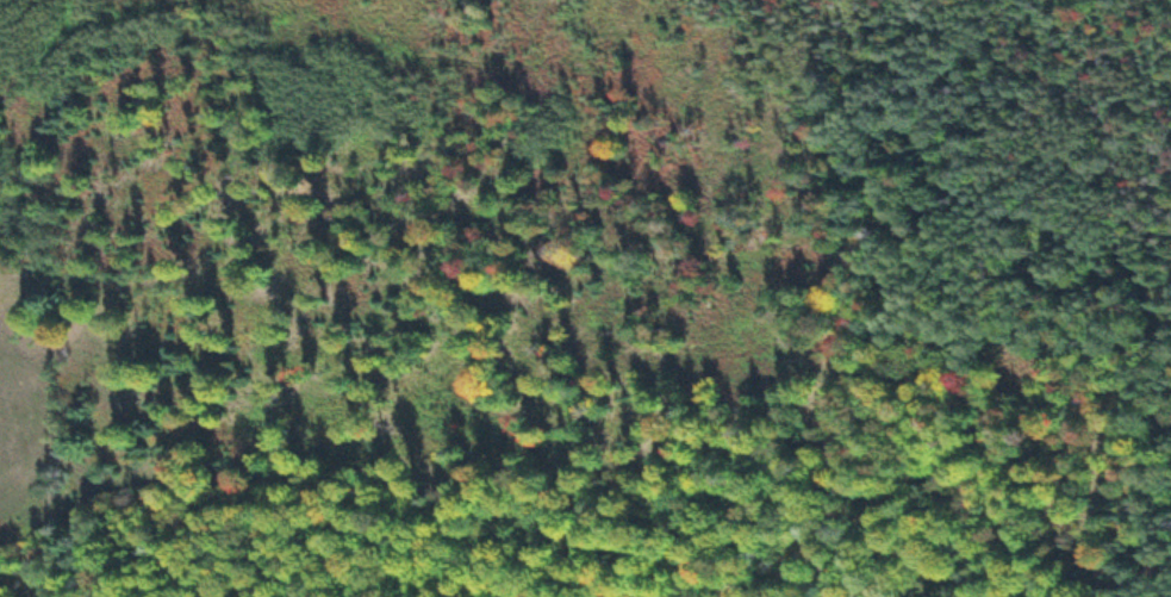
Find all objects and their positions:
road: (0, 593)

